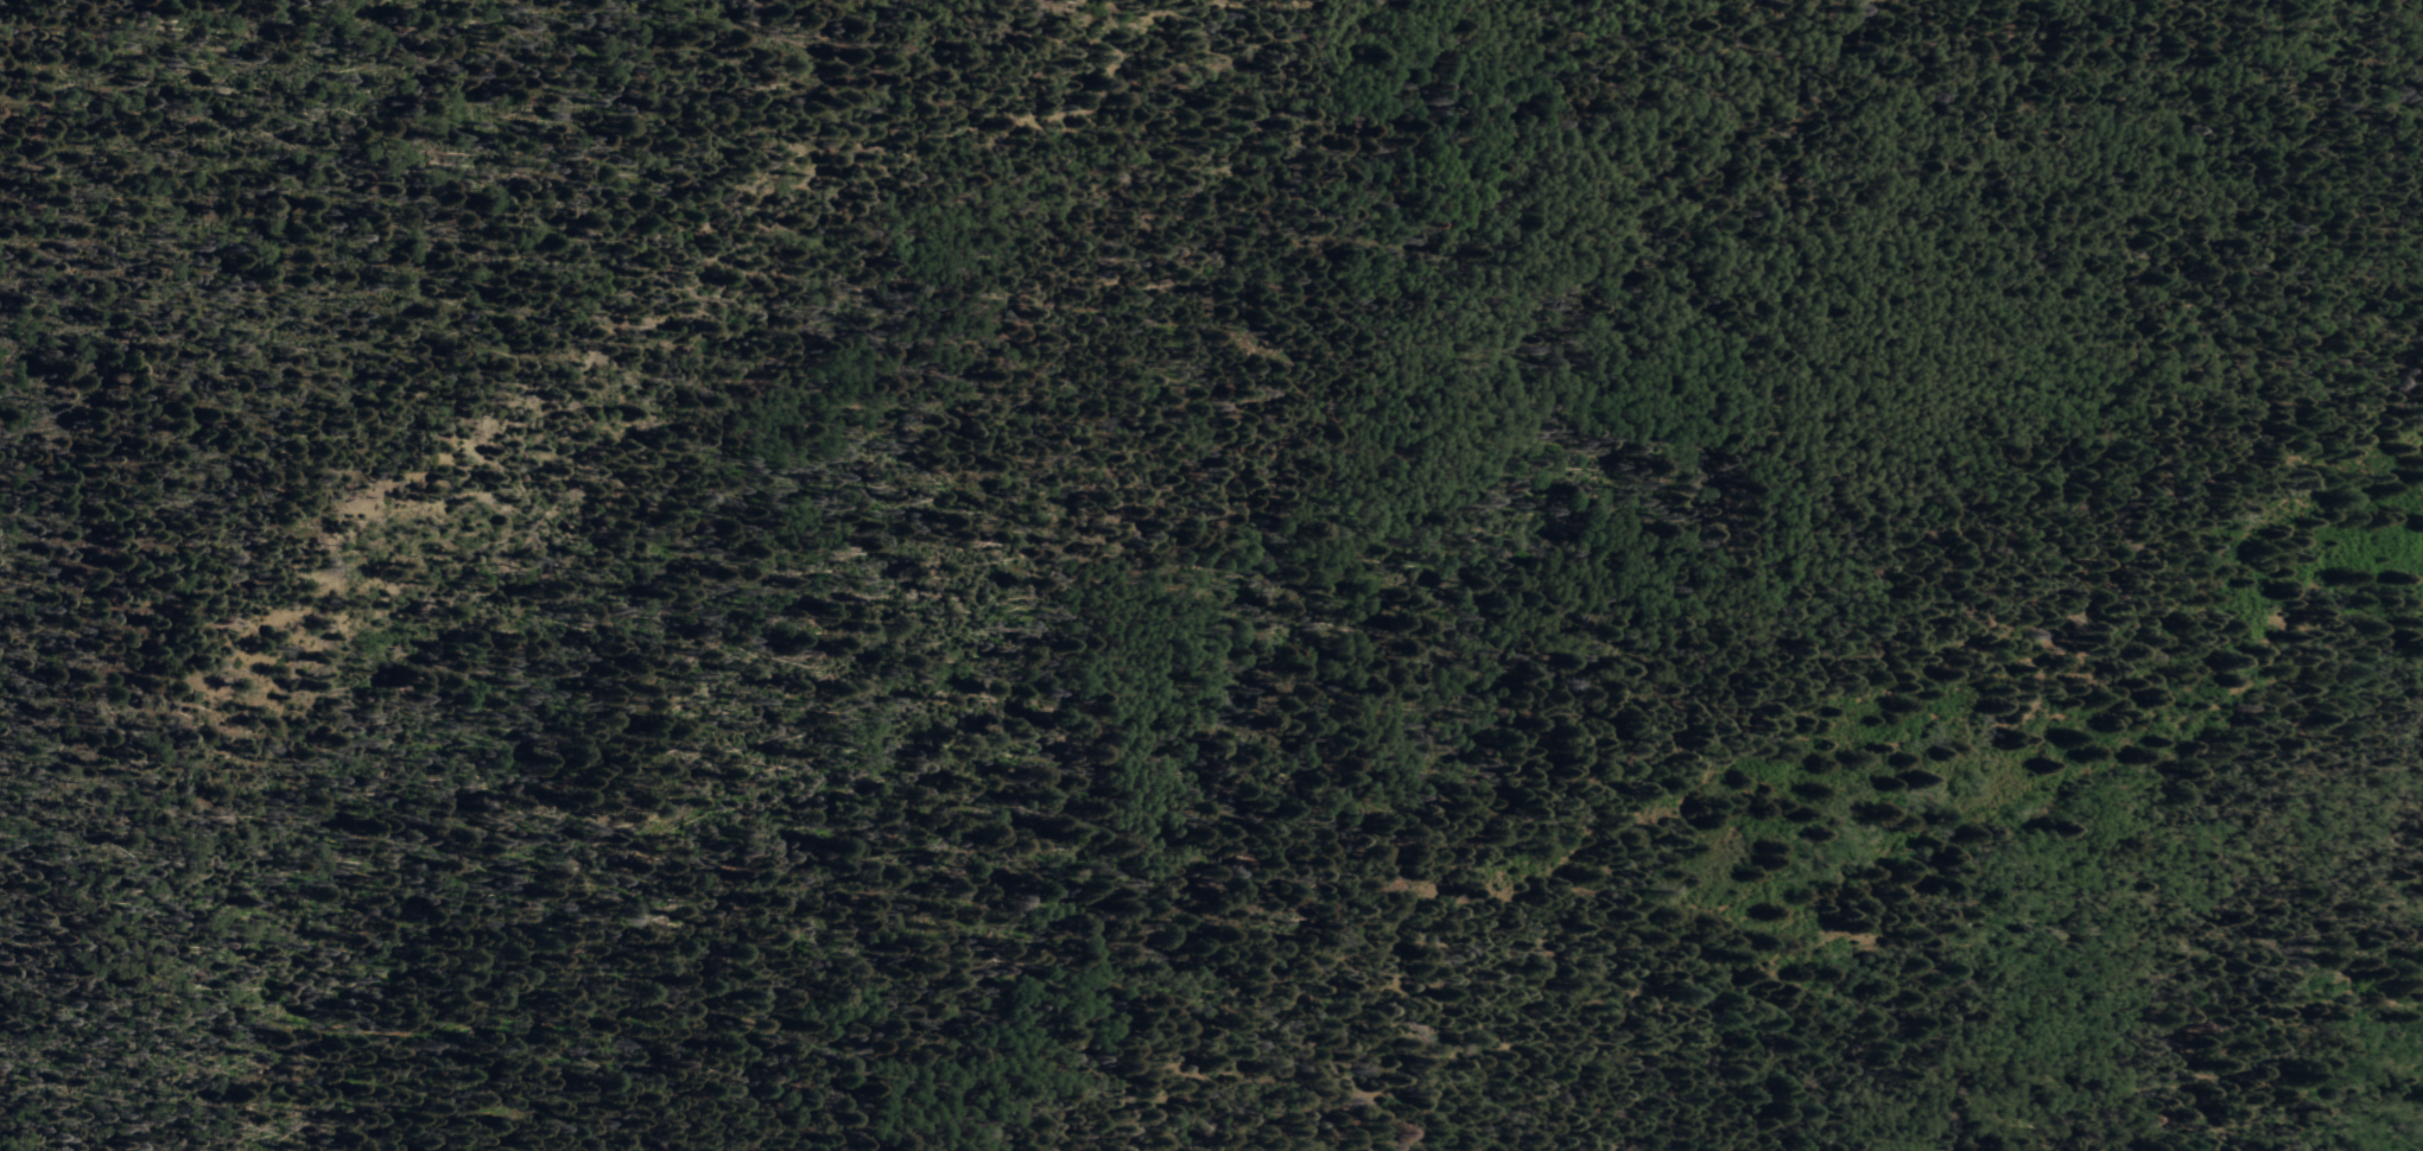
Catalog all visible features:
road: (600, 1020)

